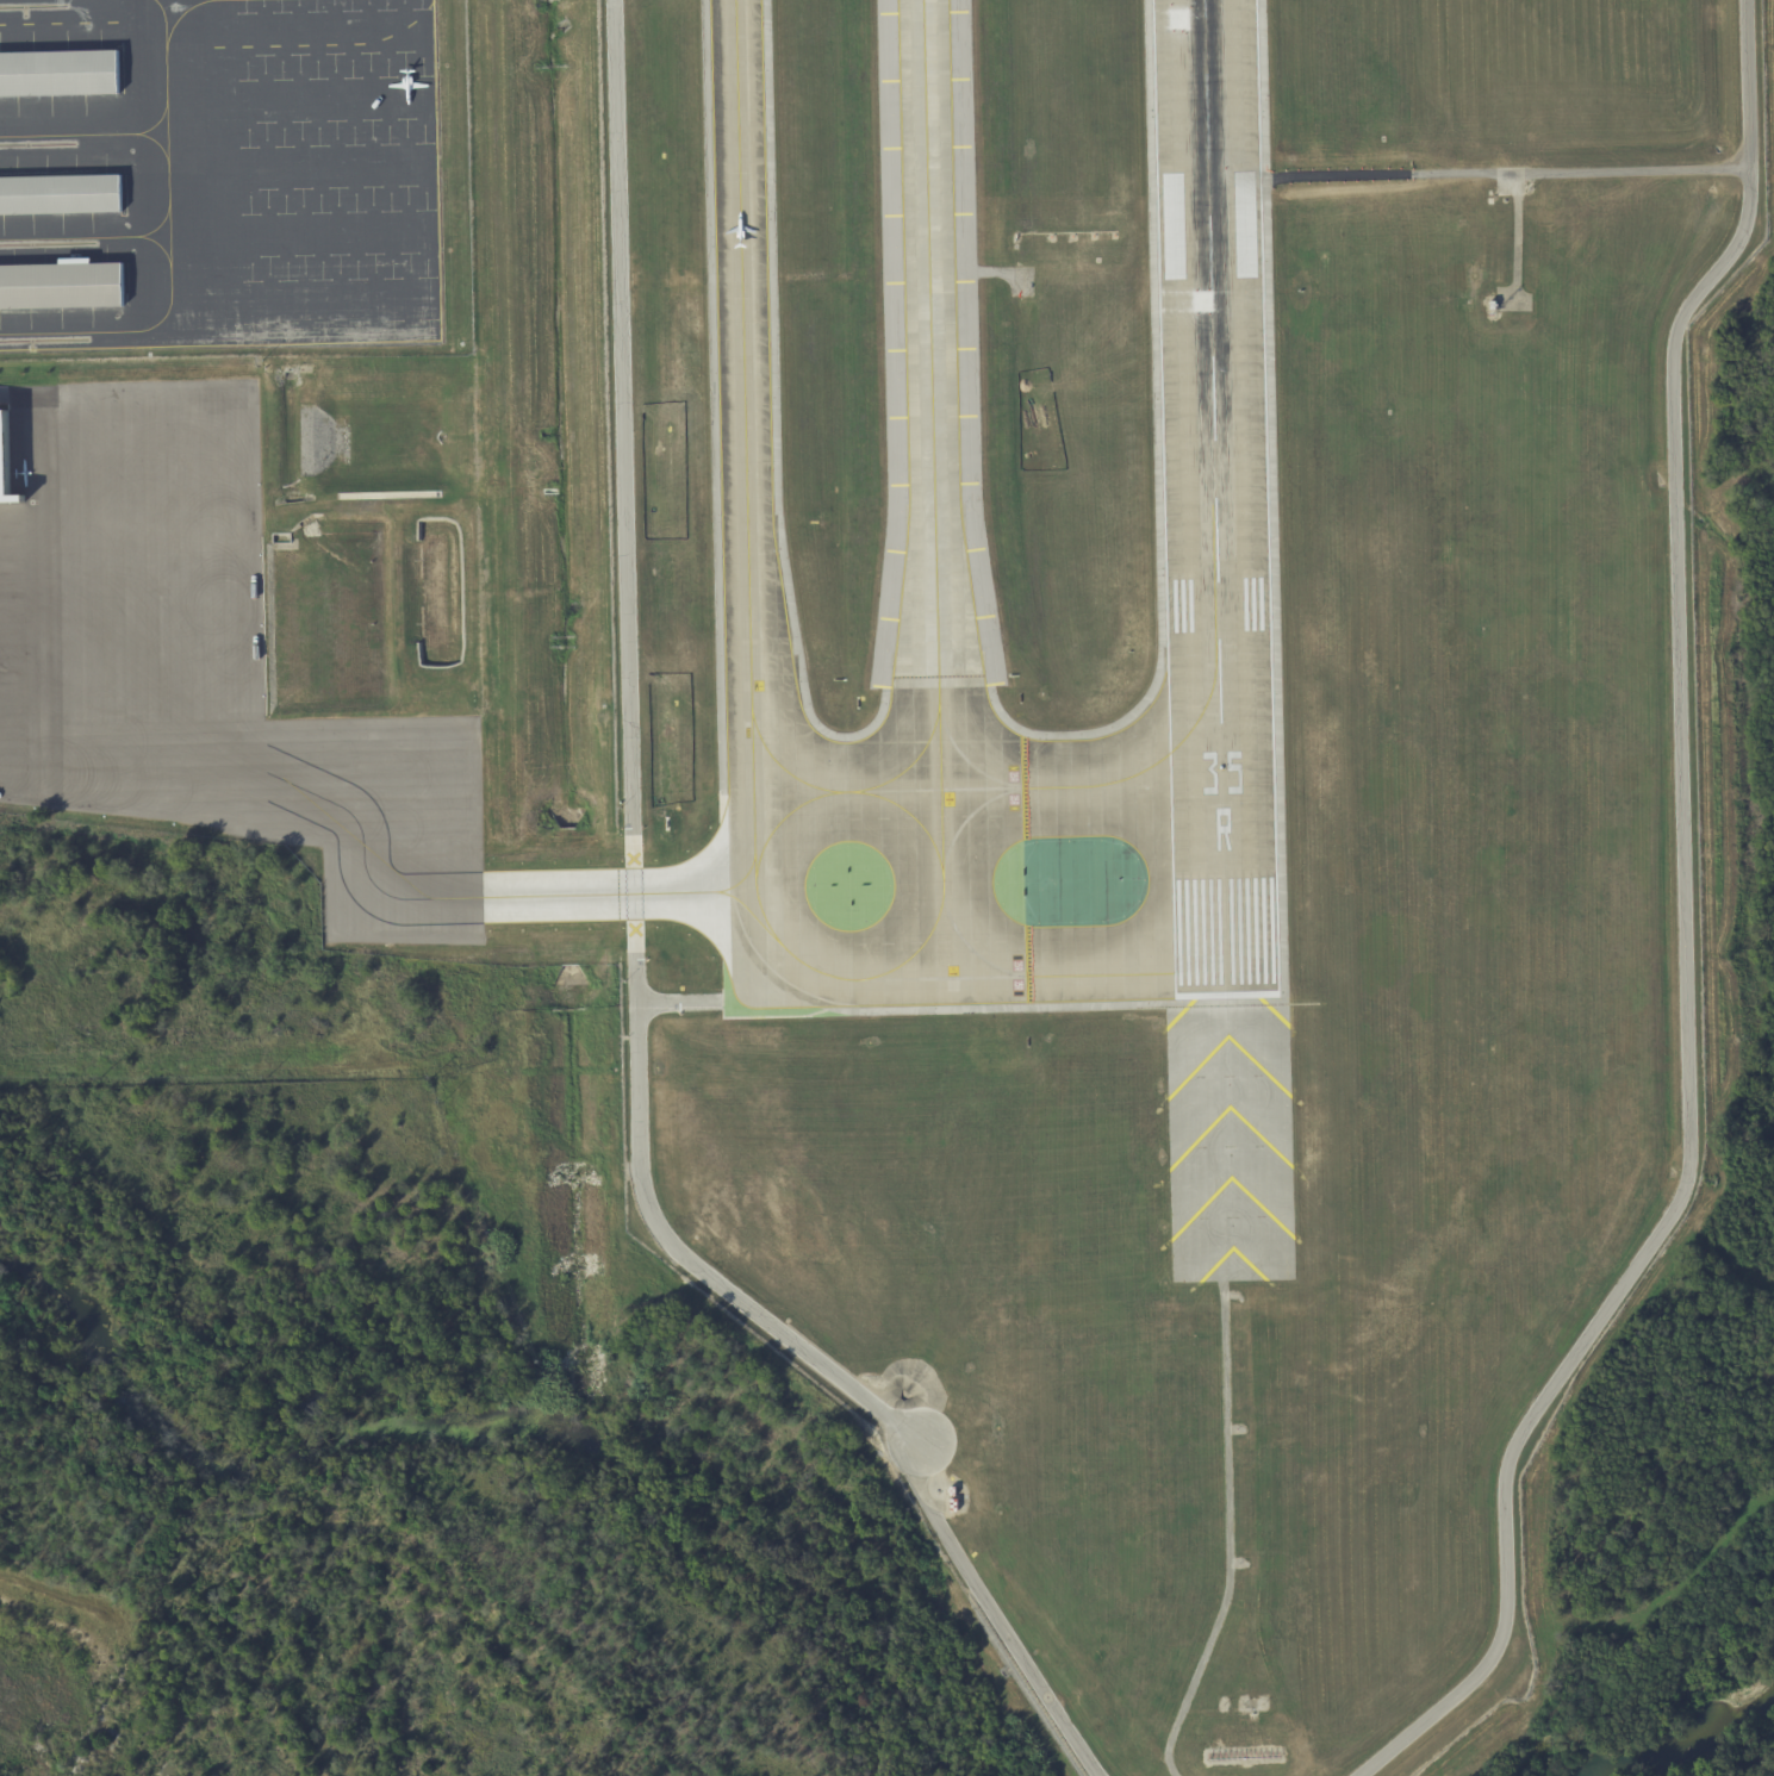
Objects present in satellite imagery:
building: (58, 75)
airport apron: (280, 173)
road: (1504, 176)
building: (60, 195)
building: (1172, 226)
building: (61, 287)
building: (1496, 307)
building: (44, 311)
airport taxiway: (932, 447)
road: (38, 467)
building: (7, 469)
airport runway: (1214, 494)
road: (20, 642)
airport apron: (207, 659)
airport taxiway: (751, 729)
airport taxiway: (1073, 786)
airport taxiway: (1025, 787)
airport taxiway: (845, 792)
road: (1271, 817)
airport taxiway: (741, 880)
airport: (886, 887)
airport taxiway: (742, 892)
airport taxiway: (487, 893)
road: (1683, 934)
airport taxiway: (966, 946)
airport taxiway: (916, 951)
road: (634, 972)
building: (954, 1494)
building: (953, 1506)
road: (1225, 1562)
river: (1691, 1741)

